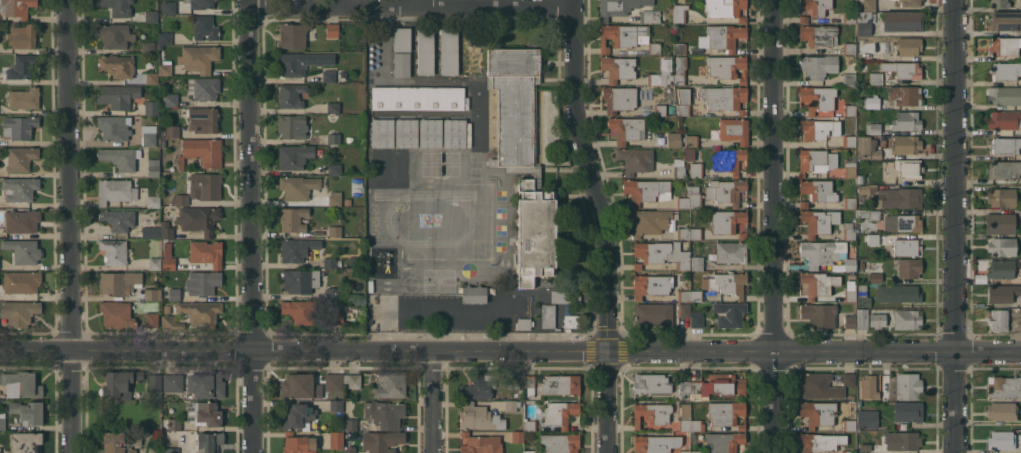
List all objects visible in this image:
road: (419, 2)
building: (200, 3)
building: (910, 3)
building: (999, 3)
road: (411, 5)
building: (869, 5)
building: (116, 6)
building: (816, 6)
building: (169, 7)
building: (619, 7)
building: (16, 8)
building: (726, 8)
building: (680, 11)
building: (151, 16)
building: (650, 16)
building: (849, 17)
building: (803, 18)
building: (902, 20)
building: (1004, 20)
building: (864, 23)
building: (204, 27)
building: (332, 30)
building: (819, 34)
building: (22, 35)
building: (115, 35)
building: (293, 35)
building: (626, 37)
building: (722, 37)
building: (165, 38)
building: (401, 39)
building: (908, 45)
building: (1004, 45)
building: (148, 47)
building: (680, 48)
building: (849, 48)
building: (425, 51)
building: (449, 51)
building: (198, 57)
building: (291, 64)
building: (401, 64)
building: (117, 65)
building: (819, 65)
building: (22, 66)
building: (165, 67)
building: (727, 67)
building: (618, 68)
building: (902, 69)
building: (680, 70)
building: (1005, 70)
building: (662, 73)
building: (328, 76)
building: (152, 78)
building: (849, 78)
building: (875, 78)
building: (203, 87)
building: (118, 95)
building: (291, 95)
building: (904, 95)
building: (1003, 95)
building: (418, 97)
building: (724, 97)
building: (859, 97)
building: (24, 98)
building: (618, 98)
building: (171, 100)
building: (683, 101)
building: (824, 101)
building: (871, 102)
building: (514, 105)
building: (151, 107)
building: (333, 107)
building: (659, 109)
building: (671, 109)
building: (202, 119)
building: (906, 120)
building: (1004, 121)
building: (292, 126)
building: (19, 127)
building: (114, 127)
building: (873, 128)
building: (627, 129)
building: (818, 129)
building: (734, 130)
building: (172, 131)
building: (382, 133)
building: (406, 133)
building: (430, 133)
building: (454, 133)
building: (149, 135)
building: (333, 138)
building: (674, 139)
building: (690, 140)
building: (849, 140)
building: (906, 144)
building: (1005, 145)
building: (866, 148)
building: (202, 151)
building: (688, 153)
building: (293, 156)
building: (120, 157)
building: (491, 157)
building: (19, 158)
building: (635, 159)
building: (730, 160)
building: (816, 160)
building: (686, 166)
building: (153, 167)
building: (678, 167)
building: (382, 168)
building: (399, 168)
building: (850, 168)
building: (908, 168)
building: (334, 169)
building: (696, 169)
building: (1004, 169)
building: (536, 177)
building: (860, 179)
building: (205, 185)
building: (298, 186)
building: (19, 188)
building: (115, 190)
building: (646, 190)
building: (818, 190)
building: (718, 192)
building: (1002, 196)
building: (900, 197)
building: (334, 198)
building: (180, 199)
building: (153, 201)
building: (683, 202)
building: (850, 202)
building: (803, 204)
building: (868, 213)
building: (118, 219)
building: (198, 219)
building: (293, 219)
building: (22, 221)
building: (650, 221)
building: (819, 221)
building: (728, 222)
building: (1000, 222)
building: (908, 223)
road: (603, 225)
road: (71, 226)
road: (251, 226)
road: (778, 226)
road: (953, 226)
building: (166, 230)
building: (148, 231)
building: (334, 231)
building: (848, 231)
building: (535, 233)
building: (684, 233)
building: (696, 233)
building: (873, 238)
building: (1002, 246)
building: (906, 247)
building: (297, 249)
building: (23, 250)
building: (113, 251)
building: (206, 252)
building: (731, 252)
building: (822, 252)
building: (660, 253)
building: (167, 257)
building: (329, 262)
building: (155, 263)
building: (697, 263)
building: (849, 263)
building: (862, 265)
building: (908, 267)
building: (1002, 268)
building: (875, 277)
building: (300, 280)
building: (21, 281)
building: (119, 282)
building: (202, 282)
building: (726, 283)
building: (657, 284)
building: (816, 284)
building: (850, 290)
building: (332, 292)
building: (898, 293)
building: (1001, 293)
building: (152, 294)
building: (174, 294)
building: (474, 294)
building: (684, 295)
building: (696, 295)
building: (862, 295)
building: (565, 296)
building: (300, 310)
building: (19, 312)
building: (201, 312)
building: (659, 313)
building: (729, 313)
building: (116, 314)
building: (819, 314)
building: (548, 315)
building: (336, 317)
building: (862, 318)
building: (151, 319)
building: (697, 319)
building: (907, 319)
building: (998, 319)
building: (849, 320)
building: (877, 320)
building: (571, 321)
building: (171, 322)
building: (524, 323)
road: (510, 349)
building: (849, 379)
building: (352, 380)
building: (516, 380)
building: (155, 382)
building: (333, 382)
building: (118, 383)
building: (173, 383)
building: (651, 383)
building: (22, 384)
building: (206, 384)
building: (391, 384)
building: (529, 384)
building: (560, 384)
building: (719, 384)
building: (818, 385)
building: (300, 386)
building: (685, 386)
building: (868, 386)
building: (907, 386)
building: (1003, 386)
building: (478, 388)
building: (336, 395)
road: (432, 401)
building: (336, 405)
building: (512, 406)
building: (28, 411)
building: (908, 411)
building: (1001, 411)
building: (817, 412)
building: (204, 413)
building: (559, 413)
building: (651, 413)
building: (727, 413)
building: (384, 414)
building: (298, 416)
building: (479, 417)
building: (684, 417)
building: (867, 418)
building: (2, 421)
building: (174, 424)
building: (351, 424)
building: (849, 424)
building: (530, 425)
building: (697, 425)
building: (352, 434)
building: (517, 436)
building: (336, 439)
building: (902, 440)
building: (1003, 440)
building: (120, 441)
building: (381, 441)
building: (724, 441)
building: (821, 441)
building: (26, 442)
building: (209, 442)
building: (560, 442)
building: (299, 443)
building: (655, 443)
building: (480, 444)
building: (865, 446)
building: (1, 447)
building: (350, 449)
building: (154, 450)
building: (171, 450)
building: (530, 451)
building: (685, 451)
building: (696, 451)
building: (848, 451)

